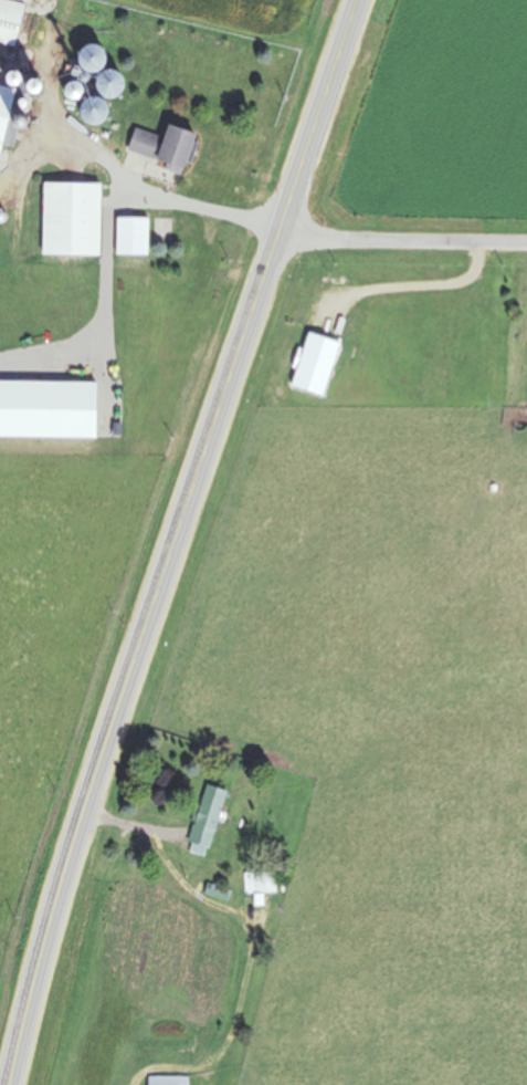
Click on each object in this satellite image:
building: (86, 56)
building: (158, 146)
road: (204, 210)
building: (67, 218)
building: (135, 237)
road: (402, 238)
building: (313, 364)
road: (175, 540)
building: (203, 820)
building: (259, 881)
building: (166, 1079)

